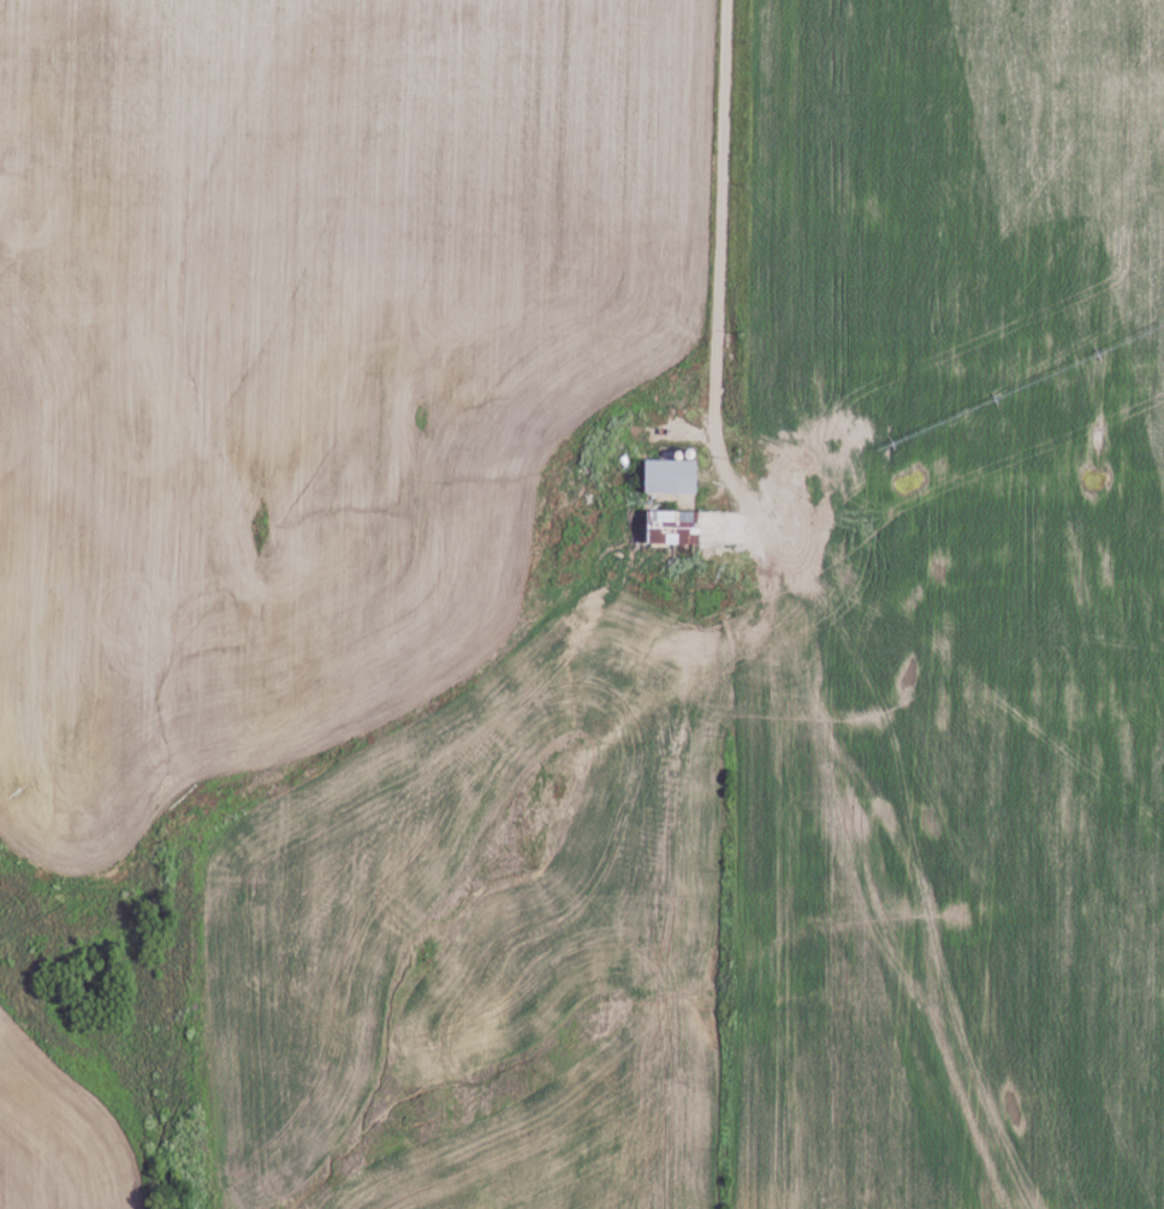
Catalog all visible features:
road: (724, 186)
building: (676, 478)
building: (675, 529)
road: (837, 804)

